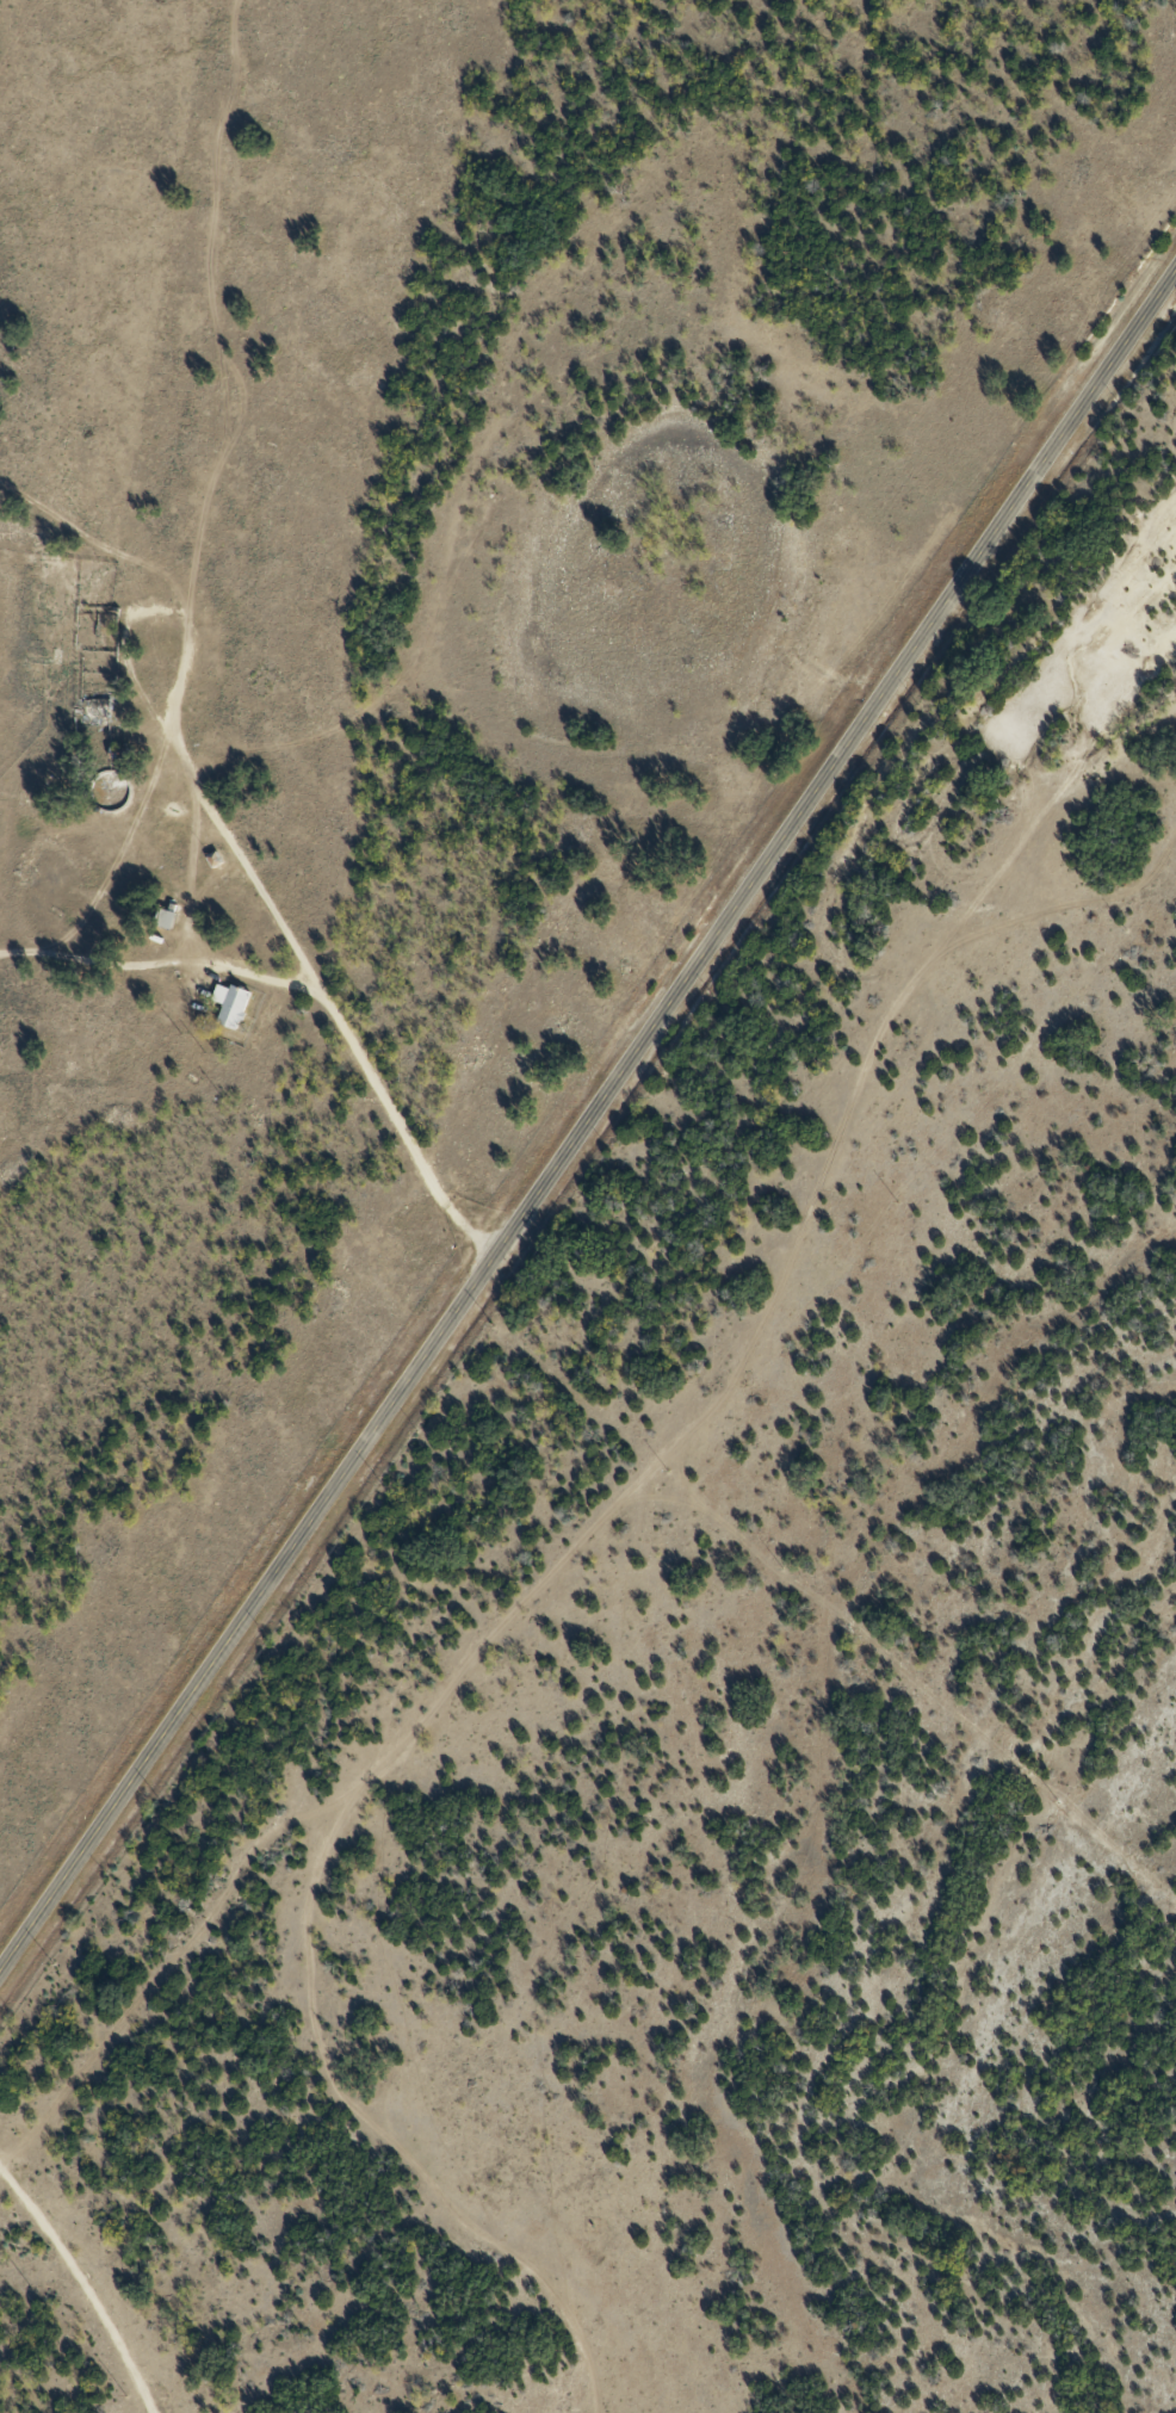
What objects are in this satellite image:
building: (211, 858)
building: (160, 917)
road: (95, 940)
building: (228, 1003)
road: (588, 1125)
road: (83, 1280)

